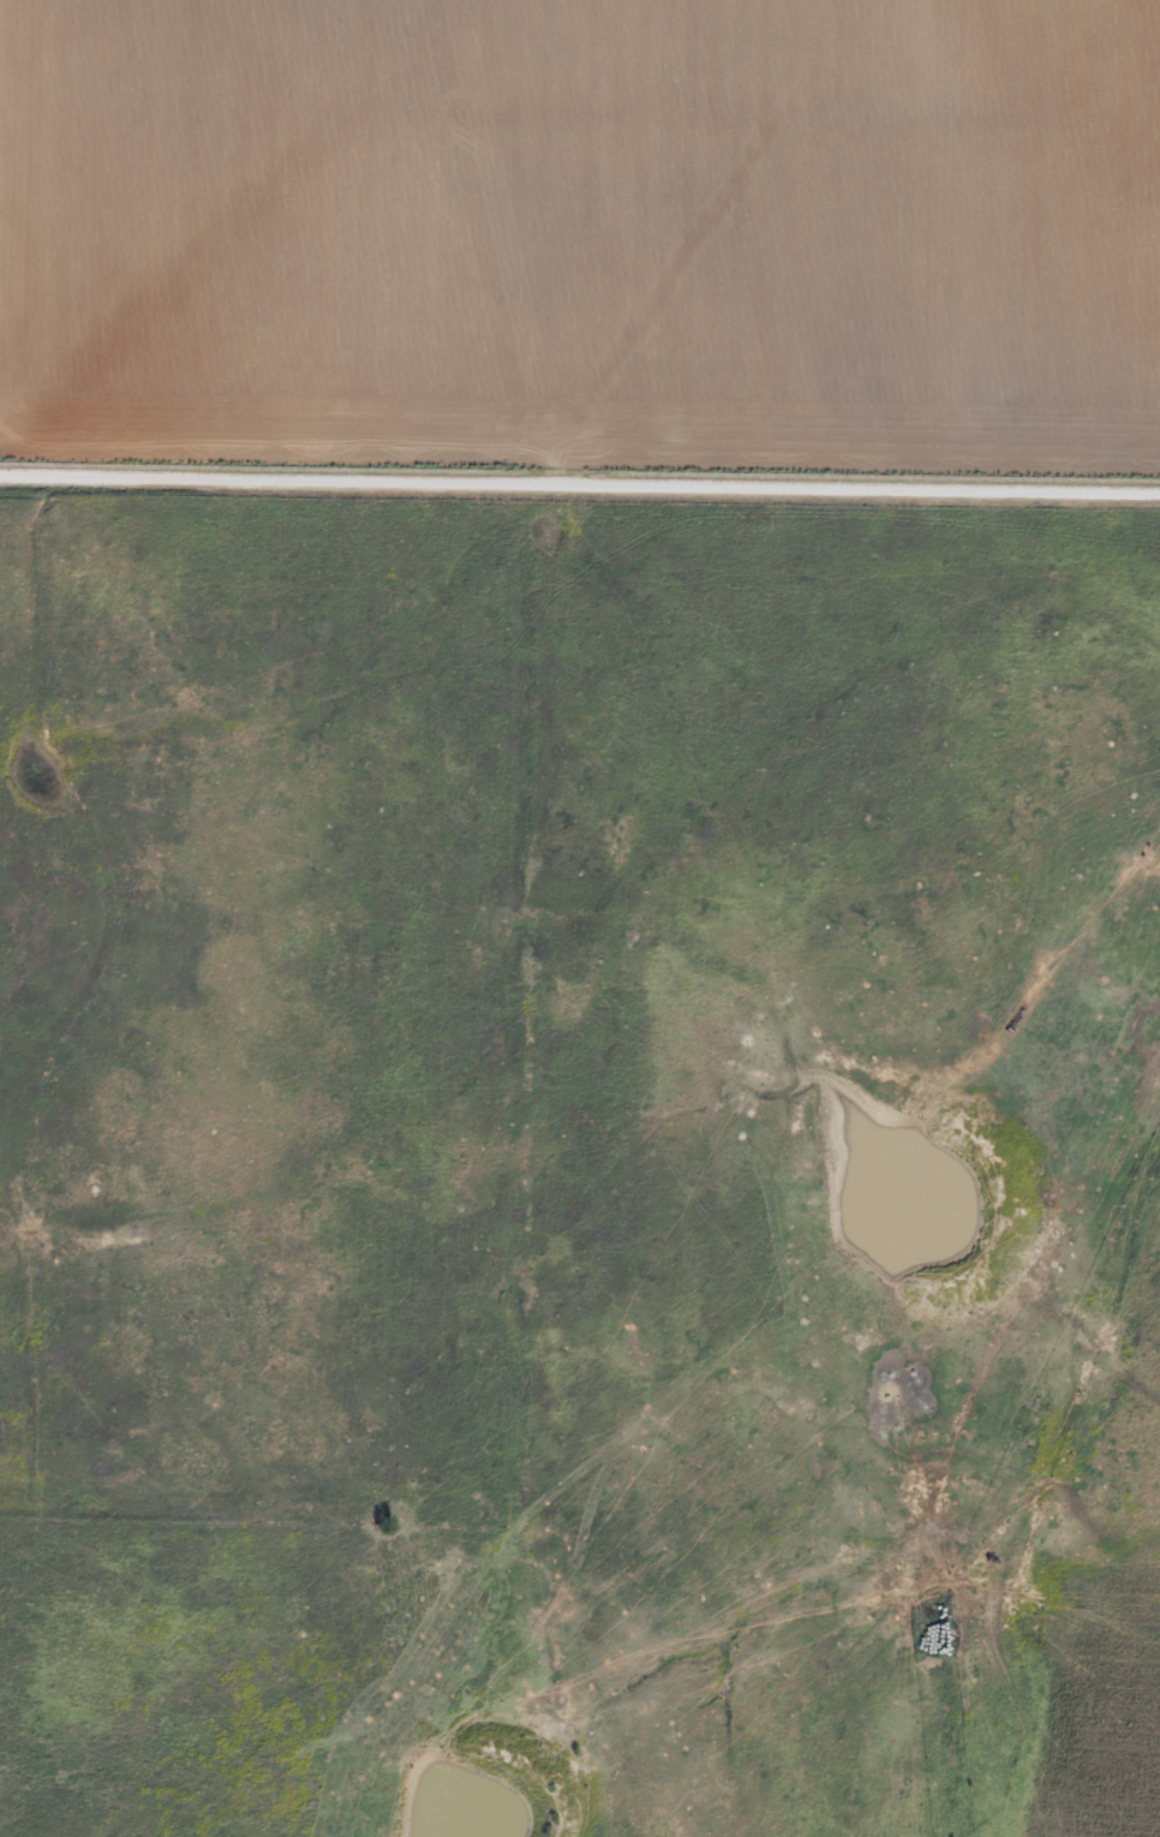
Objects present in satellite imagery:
road: (579, 481)

